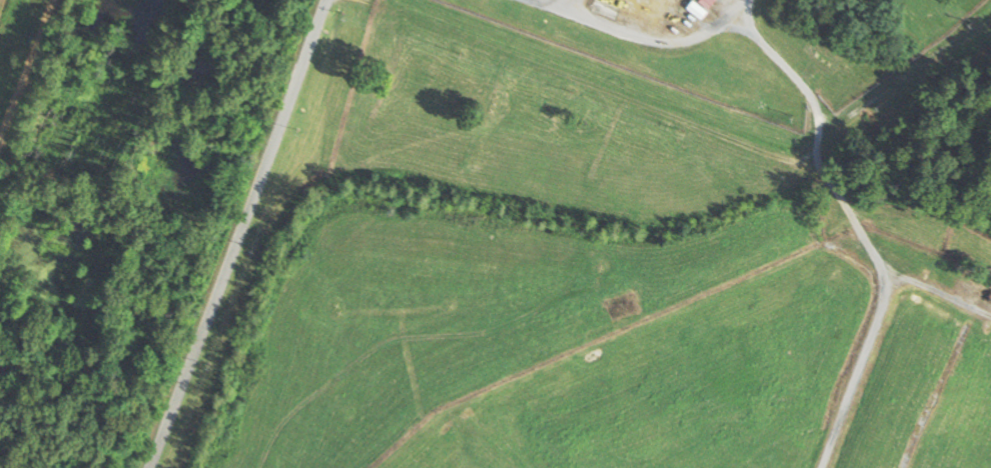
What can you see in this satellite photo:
building: (700, 6)
road: (25, 69)
road: (228, 234)
building: (978, 286)

